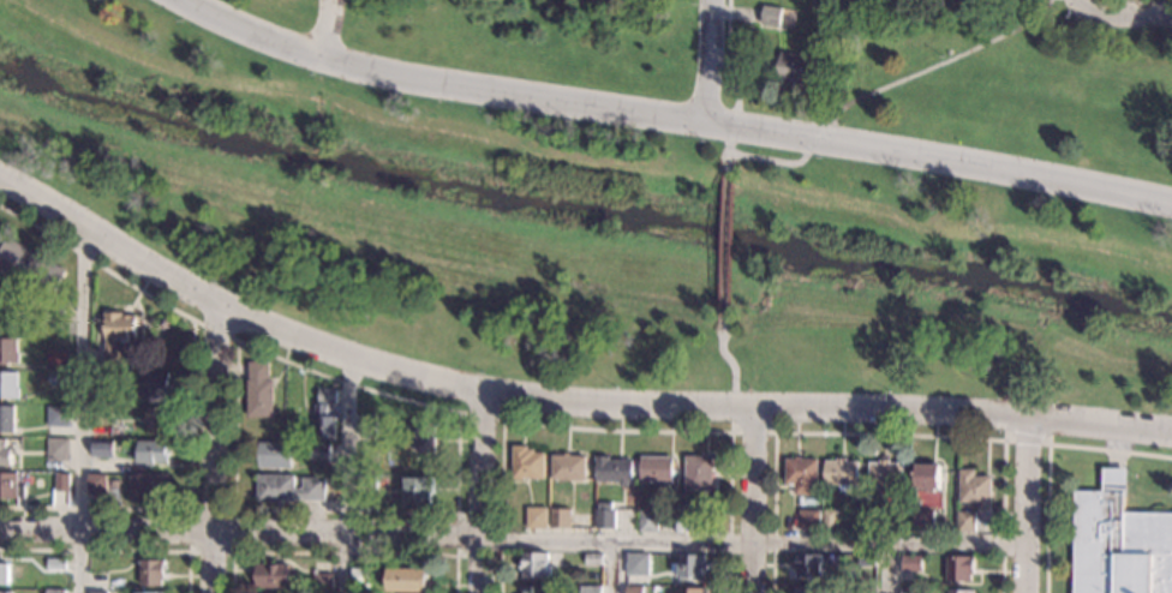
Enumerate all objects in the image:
road: (1080, 2)
road: (1125, 14)
building: (772, 16)
road: (327, 29)
road: (728, 52)
road: (711, 61)
road: (940, 61)
building: (794, 68)
road: (671, 118)
road: (735, 126)
road: (820, 138)
road: (771, 158)
road: (729, 161)
park: (641, 182)
river: (581, 210)
road: (725, 246)
building: (30, 265)
building: (163, 323)
road: (214, 330)
building: (118, 335)
building: (7, 351)
building: (133, 357)
road: (728, 357)
building: (56, 358)
road: (235, 367)
building: (102, 376)
building: (58, 377)
building: (154, 384)
building: (8, 385)
building: (259, 389)
building: (325, 394)
road: (191, 397)
road: (561, 400)
road: (79, 408)
road: (735, 411)
building: (101, 413)
road: (480, 415)
building: (6, 417)
building: (58, 417)
building: (157, 418)
building: (323, 421)
building: (366, 423)
road: (611, 430)
road: (755, 432)
road: (886, 435)
building: (421, 437)
road: (1027, 441)
road: (215, 447)
building: (58, 448)
building: (102, 448)
building: (151, 450)
building: (318, 451)
building: (5, 453)
building: (274, 454)
road: (1048, 456)
building: (527, 463)
building: (568, 466)
building: (612, 469)
building: (656, 469)
building: (699, 472)
building: (842, 474)
road: (347, 475)
building: (802, 475)
building: (886, 477)
building: (927, 477)
building: (61, 481)
building: (366, 481)
building: (96, 483)
building: (10, 485)
building: (149, 486)
building: (417, 487)
building: (288, 489)
building: (975, 489)
road: (480, 491)
road: (755, 498)
road: (1032, 505)
road: (191, 509)
building: (604, 516)
building: (536, 517)
building: (694, 517)
building: (560, 519)
building: (808, 519)
building: (830, 519)
building: (647, 520)
building: (874, 520)
building: (922, 521)
building: (965, 521)
road: (240, 529)
road: (458, 534)
road: (755, 543)
building: (1119, 543)
road: (115, 551)
road: (343, 553)
building: (593, 558)
building: (867, 561)
building: (55, 563)
building: (910, 563)
building: (638, 564)
building: (534, 565)
building: (808, 565)
road: (611, 567)
building: (690, 567)
road: (884, 568)
building: (961, 568)
building: (153, 571)
building: (4, 573)
building: (271, 575)
building: (361, 577)
building: (408, 580)
building: (321, 581)
building: (112, 583)
building: (534, 589)
building: (591, 589)
building: (633, 589)
building: (6, 591)
building: (56, 591)
building: (97, 591)
building: (692, 591)
building: (807, 591)
building: (866, 591)
building: (909, 591)
building: (145, 592)
building: (959, 592)

